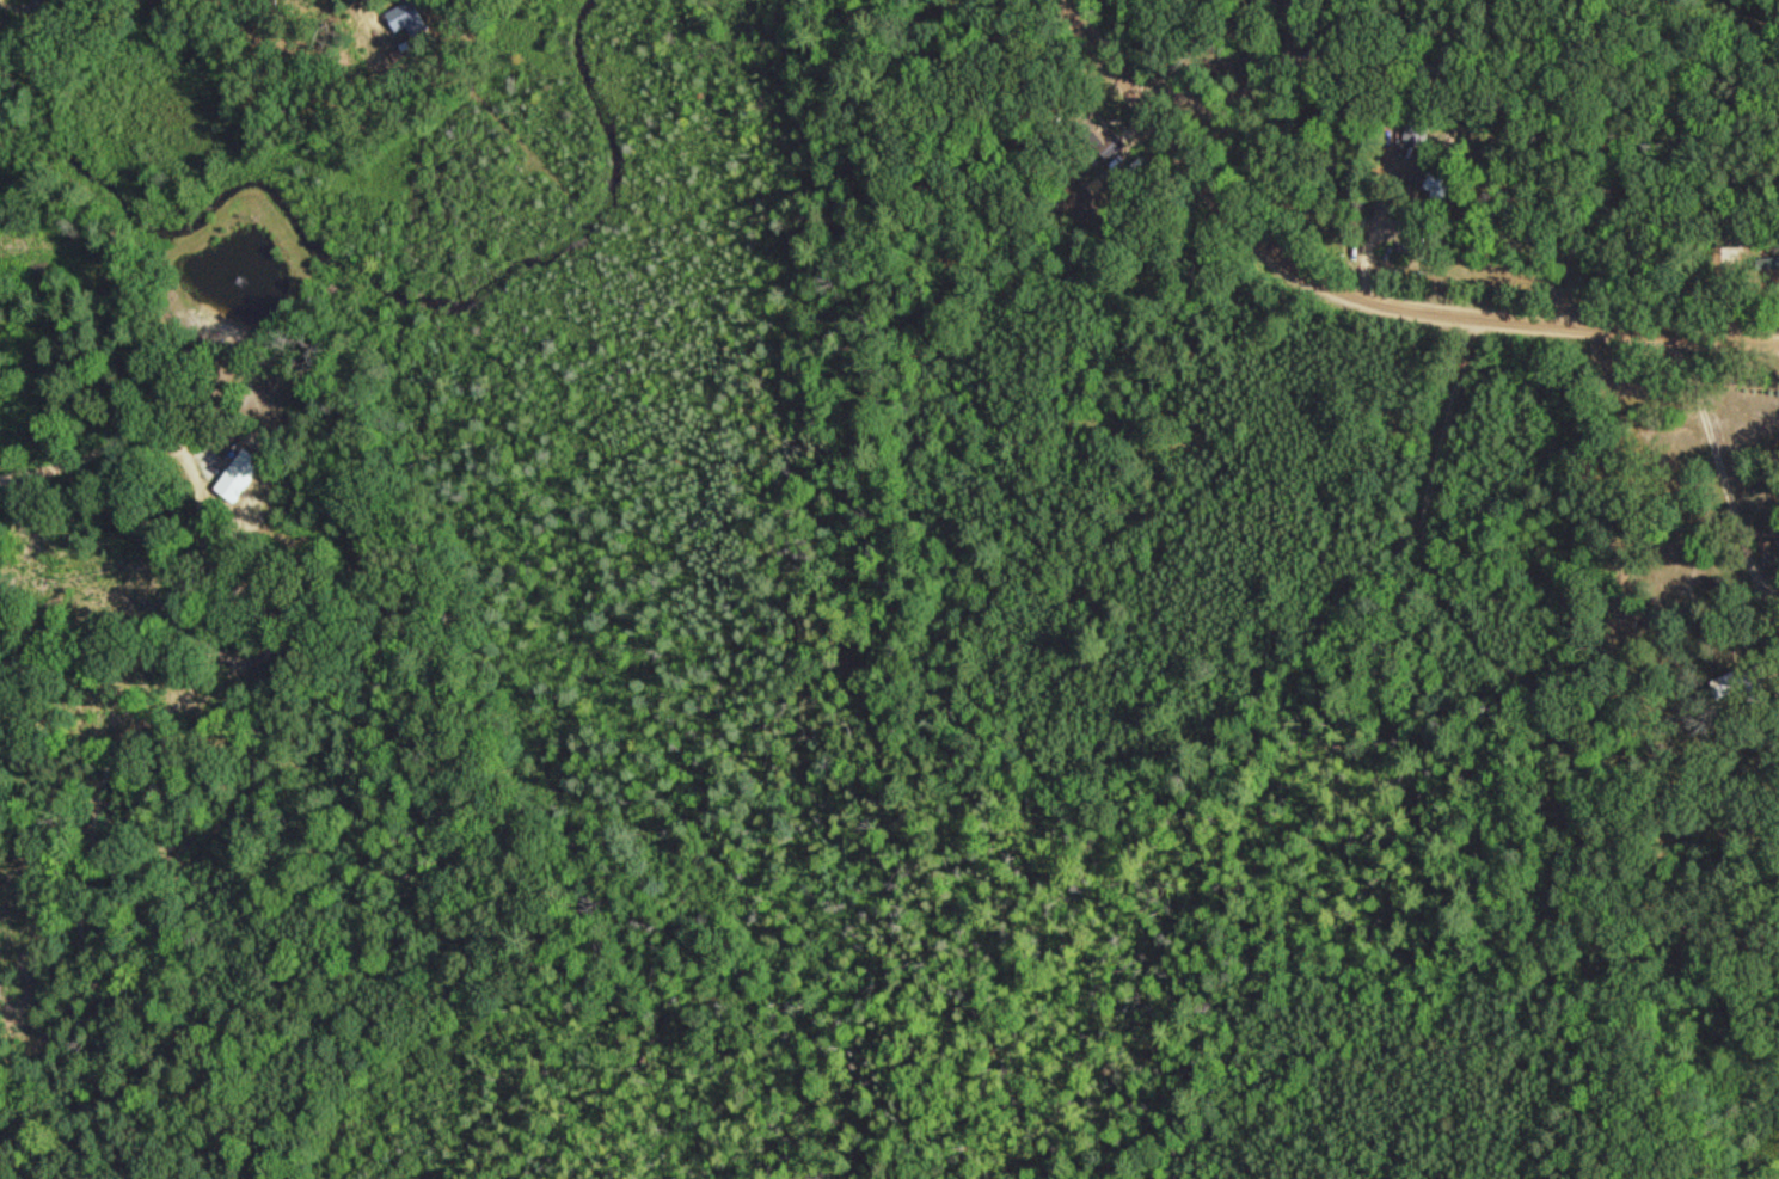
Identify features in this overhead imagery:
building: (25, 6)
building: (412, 17)
building: (1442, 171)
building: (1769, 262)
road: (1356, 290)
building: (243, 474)
building: (1746, 683)

